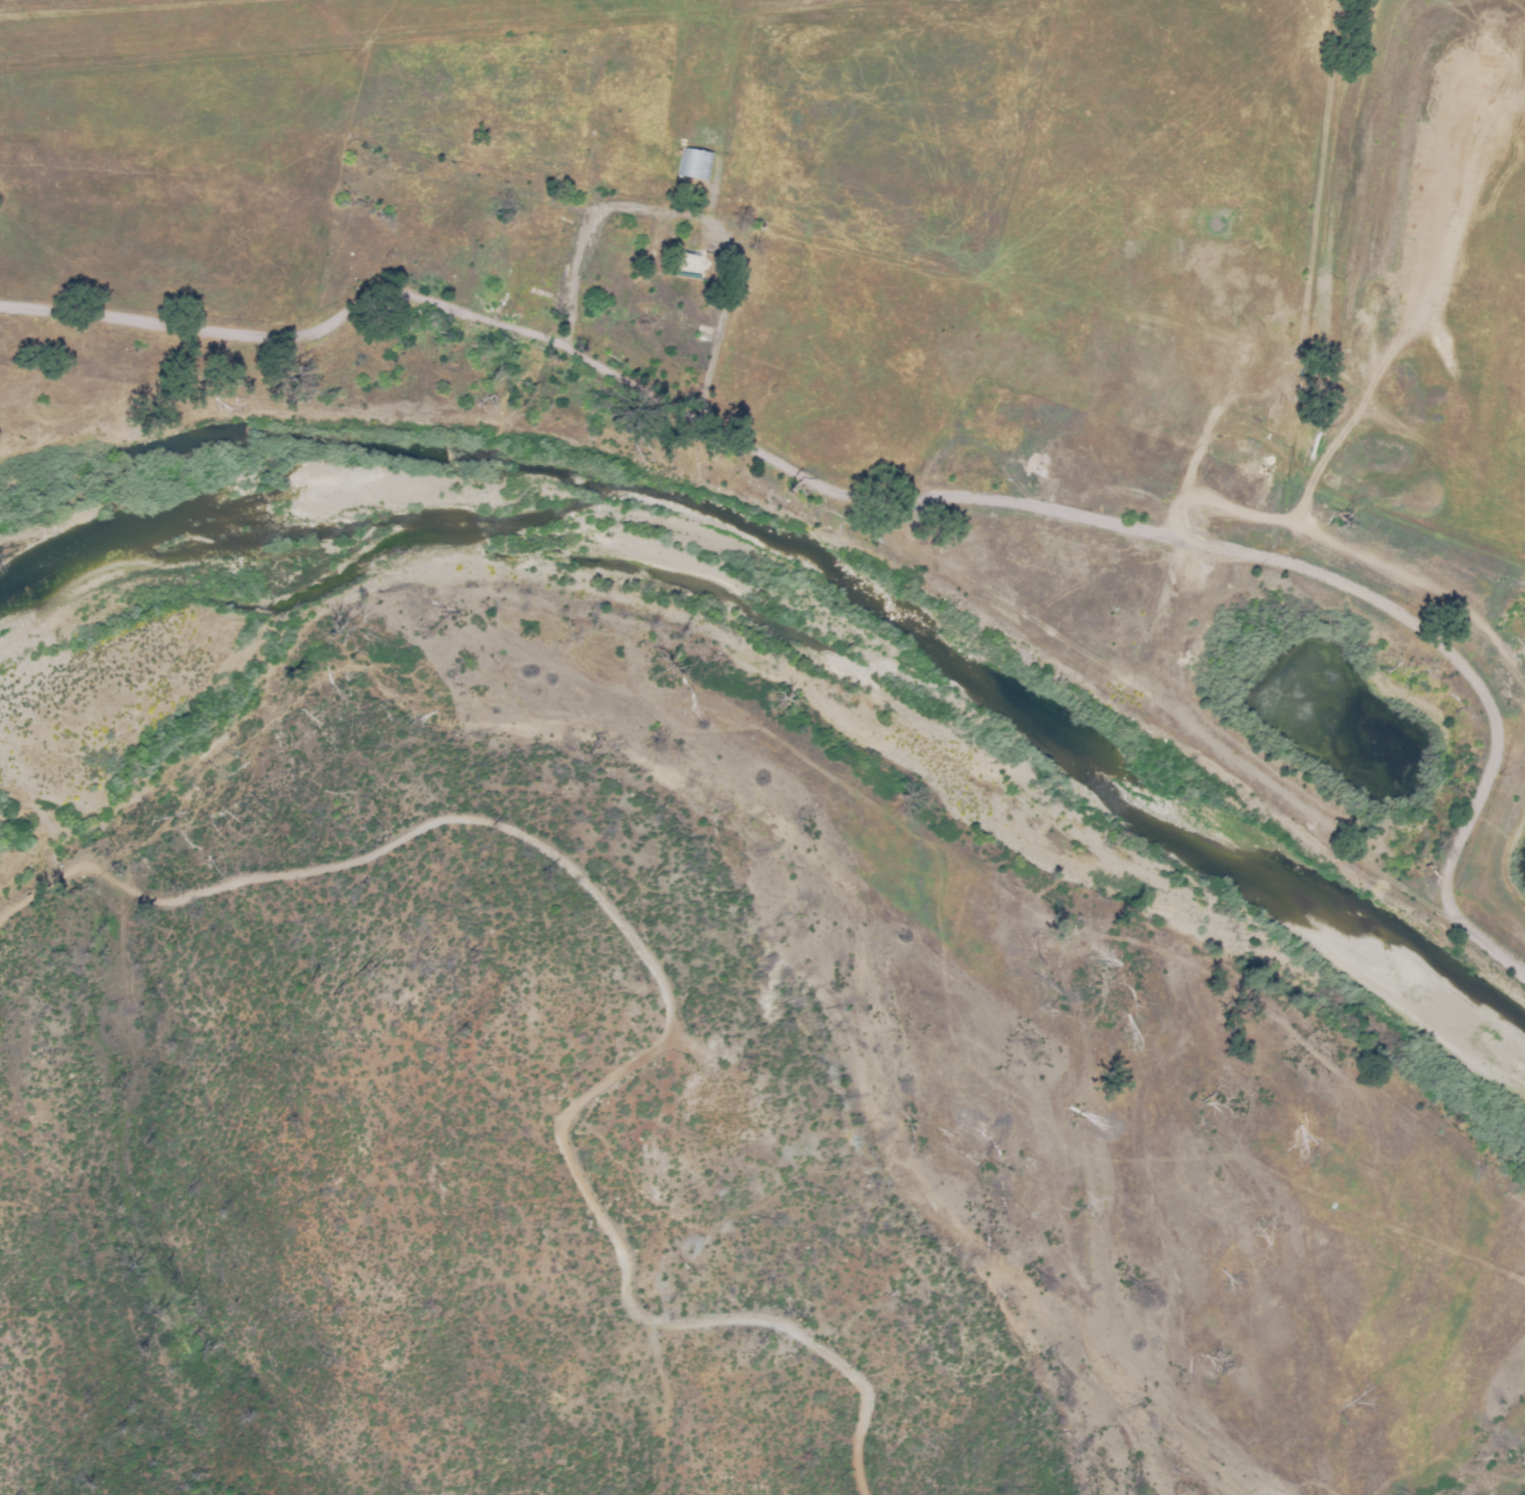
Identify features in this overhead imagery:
building: (697, 163)
building: (688, 261)
building: (488, 272)
road: (1301, 317)
building: (686, 327)
building: (1012, 411)
road: (909, 496)
road: (663, 988)
road: (101, 1049)

